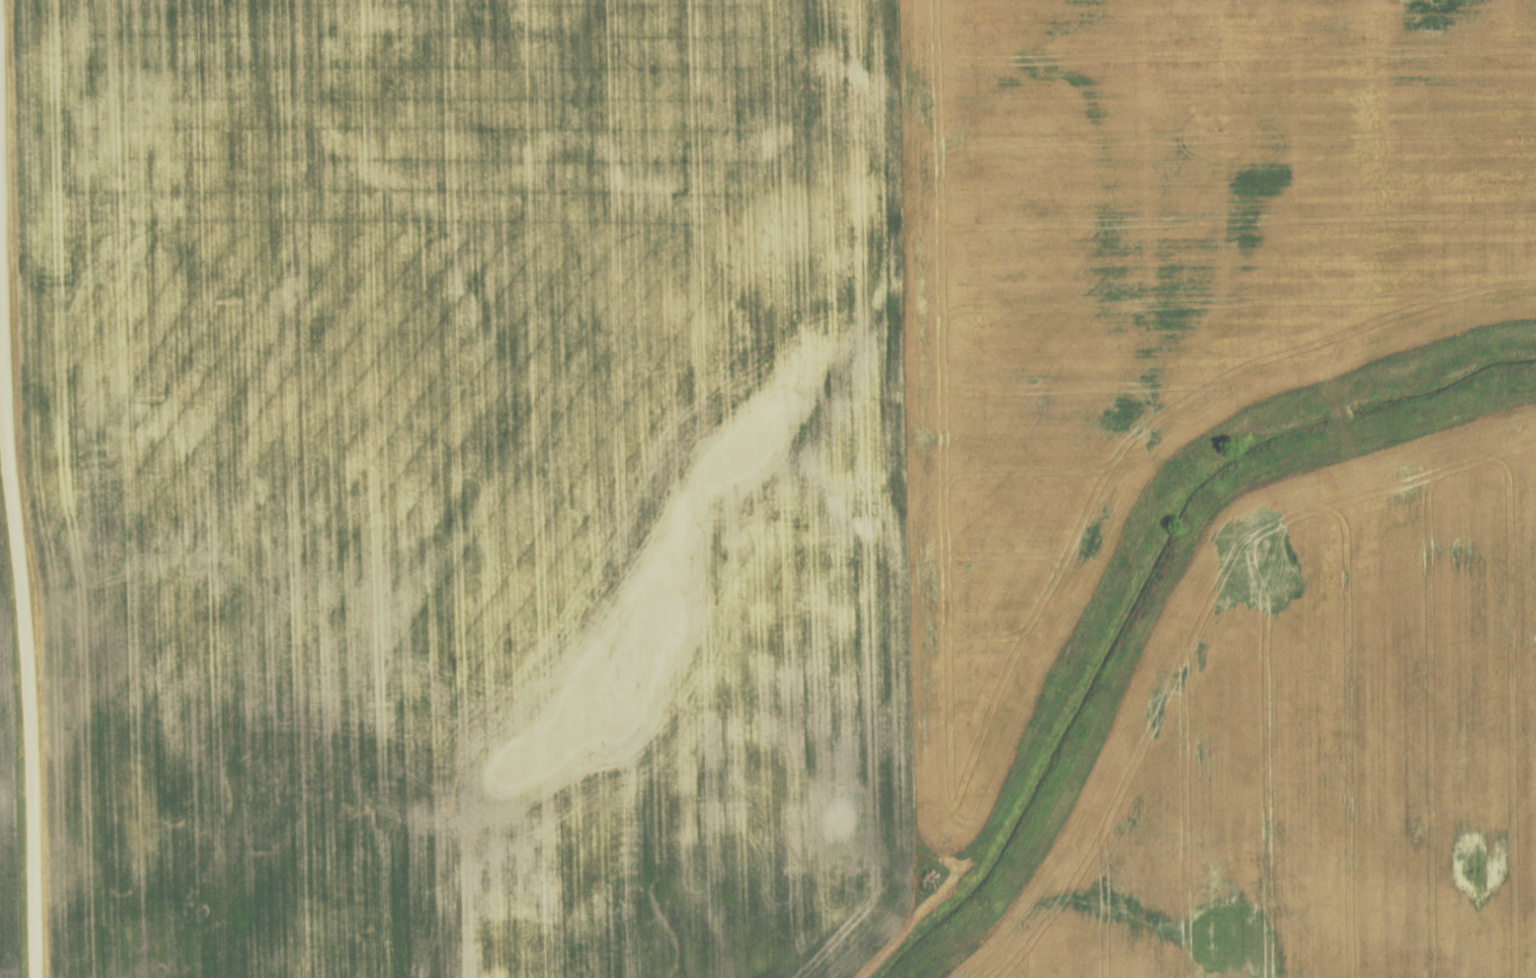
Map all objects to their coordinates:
crop: (658, 429)
road: (12, 489)
crop: (4, 841)

